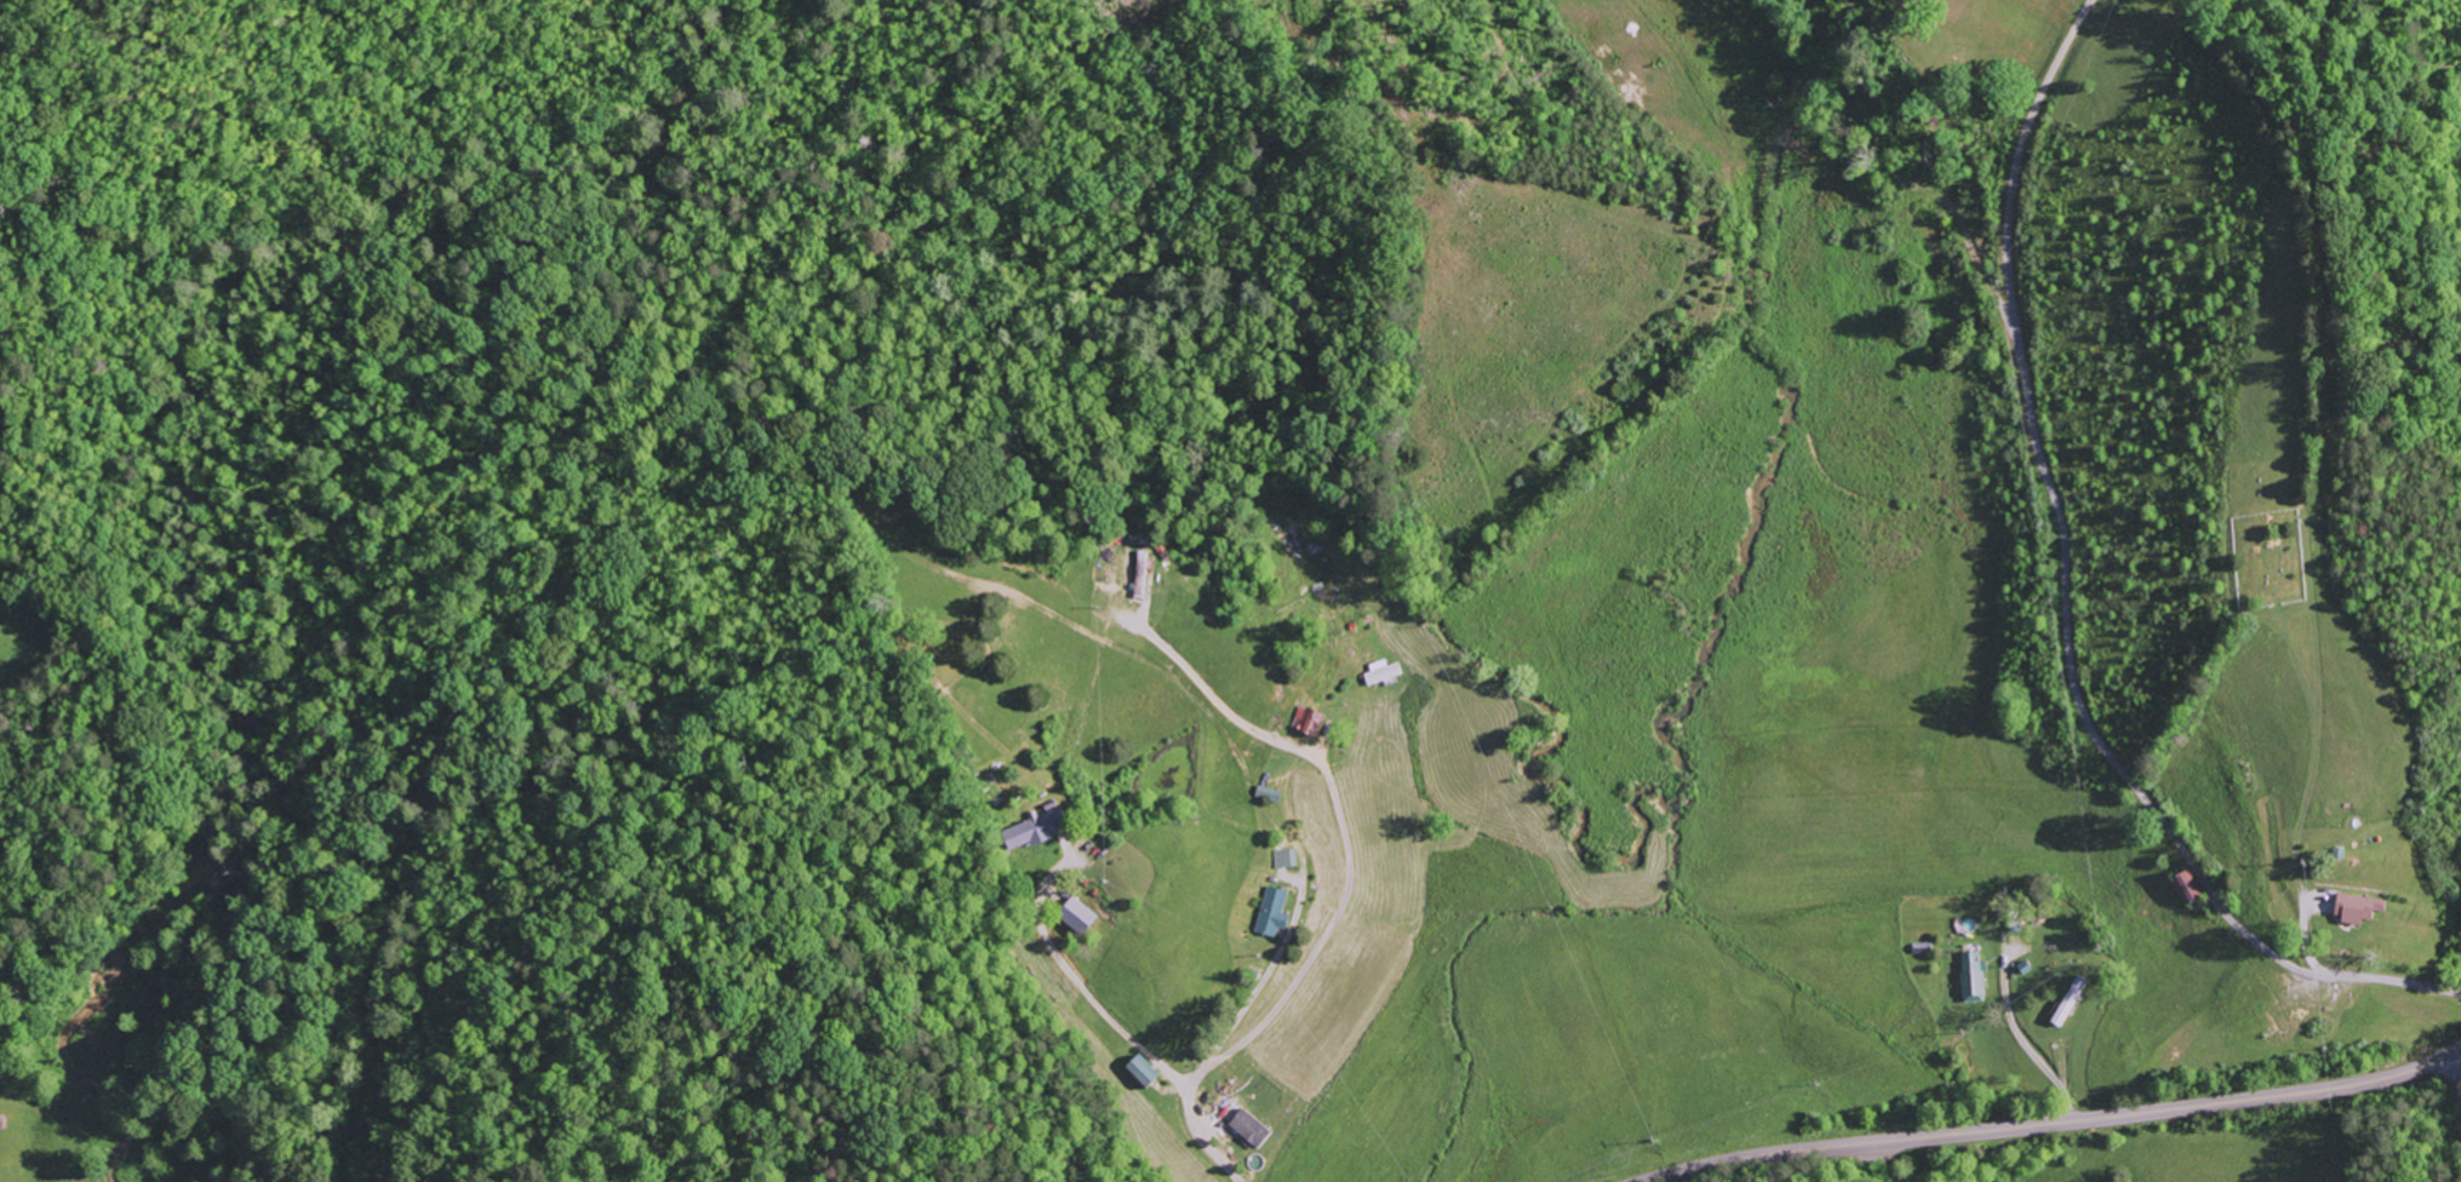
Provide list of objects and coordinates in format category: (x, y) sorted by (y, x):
building: (1140, 574)
road: (2064, 599)
building: (1380, 673)
building: (1306, 722)
building: (1035, 828)
building: (1284, 859)
building: (2185, 886)
building: (2357, 907)
building: (1272, 912)
building: (1076, 916)
building: (1971, 977)
building: (2067, 1002)
road: (1280, 1003)
road: (2460, 1057)
building: (1140, 1071)
road: (1140, 1103)
road: (2061, 1123)
building: (1248, 1129)
road: (2454, 1137)
road: (1887, 1163)

